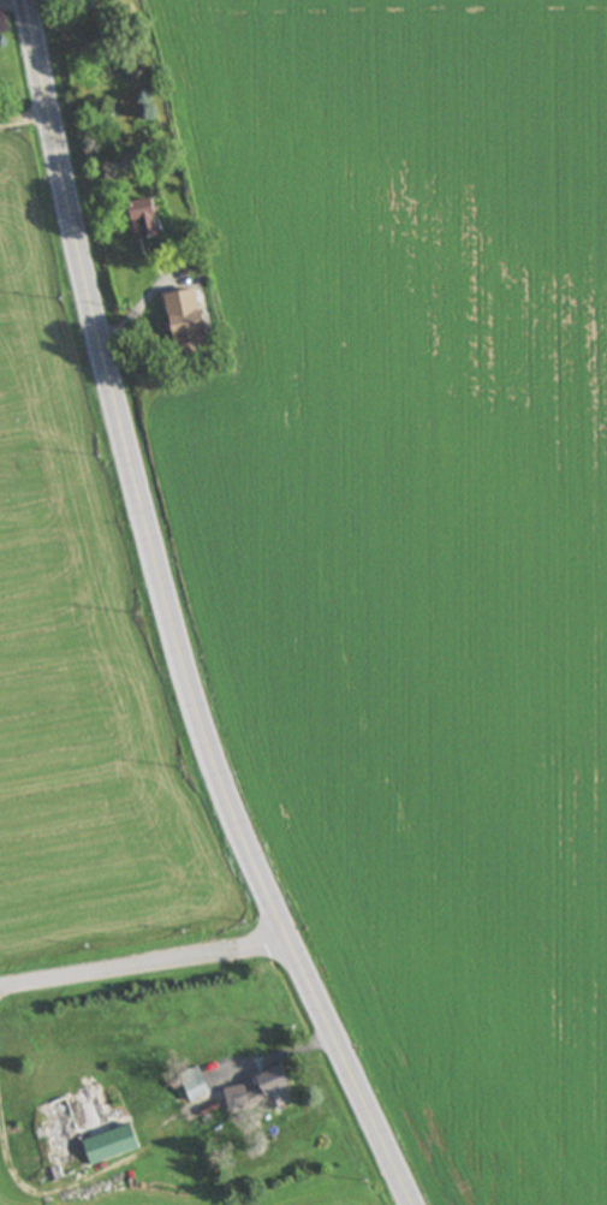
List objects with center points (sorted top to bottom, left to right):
building: (203, 326)
road: (175, 616)
road: (139, 962)
building: (184, 1085)
building: (263, 1090)
building: (47, 1138)

